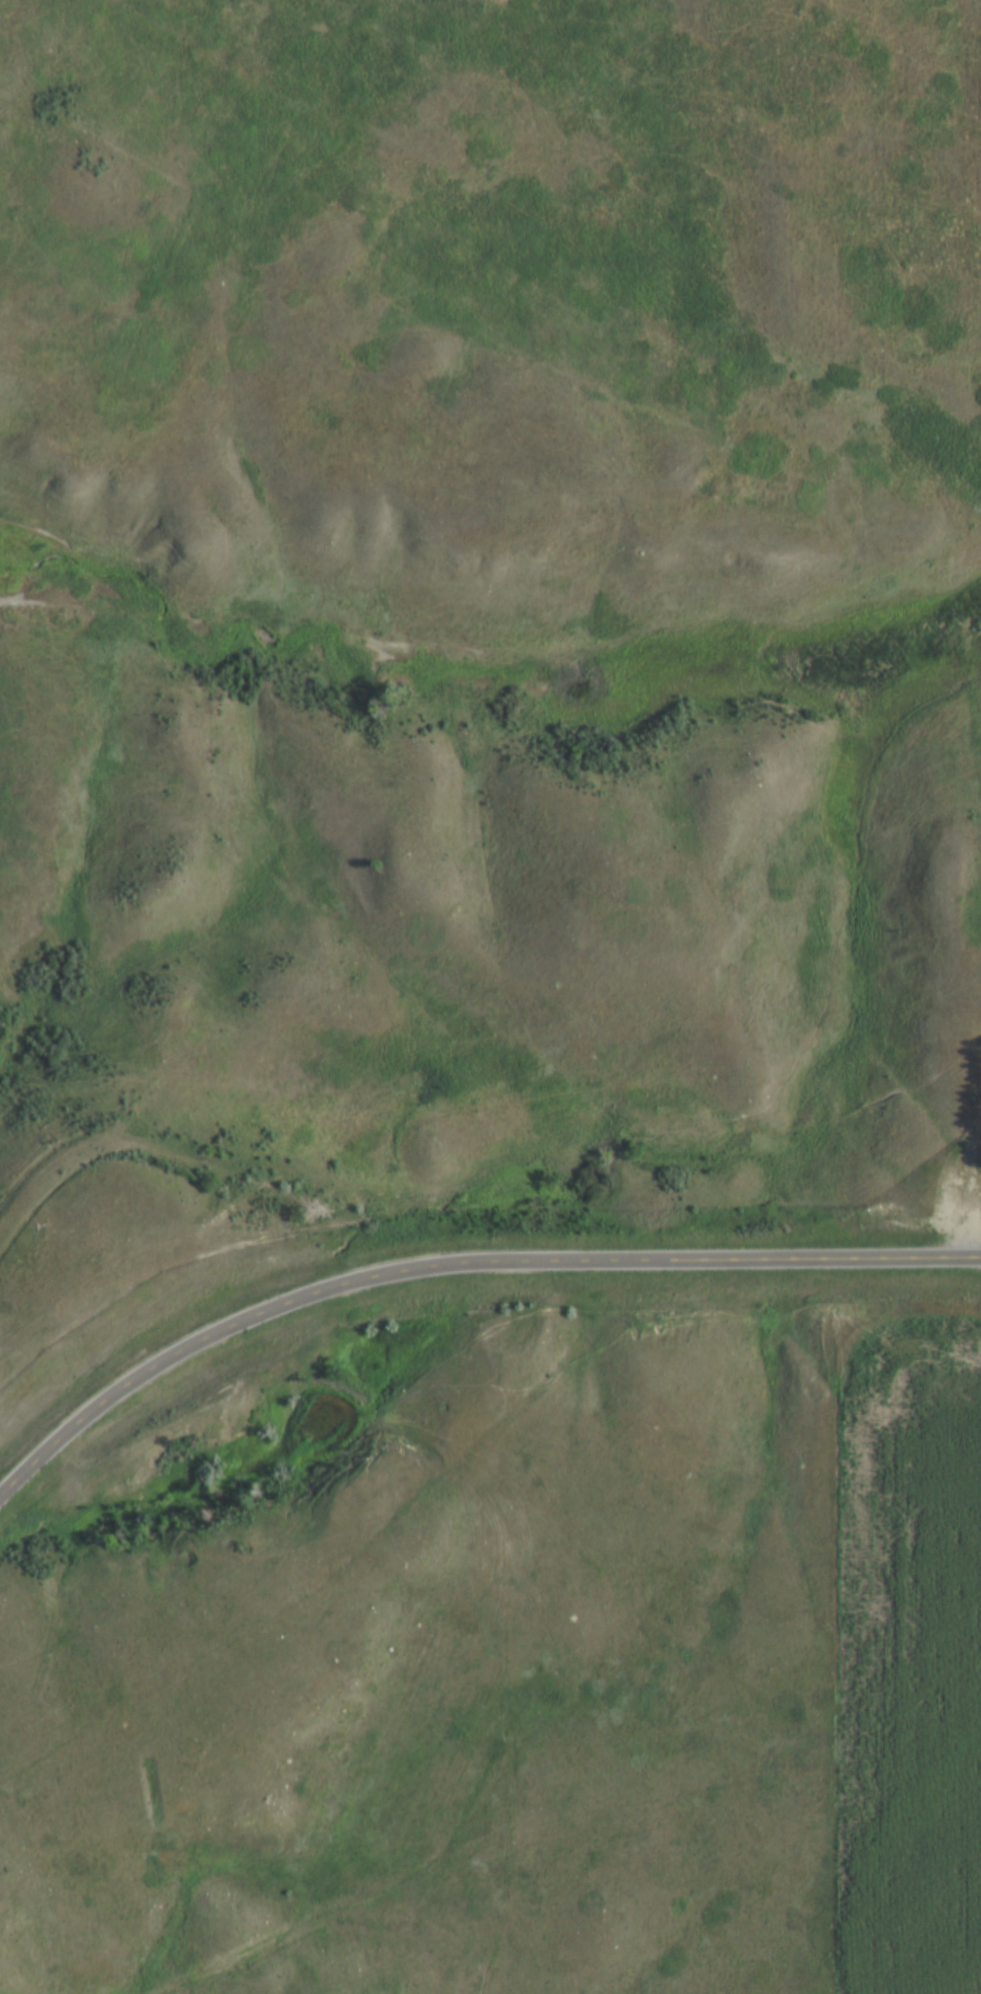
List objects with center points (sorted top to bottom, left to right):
road: (455, 1260)

